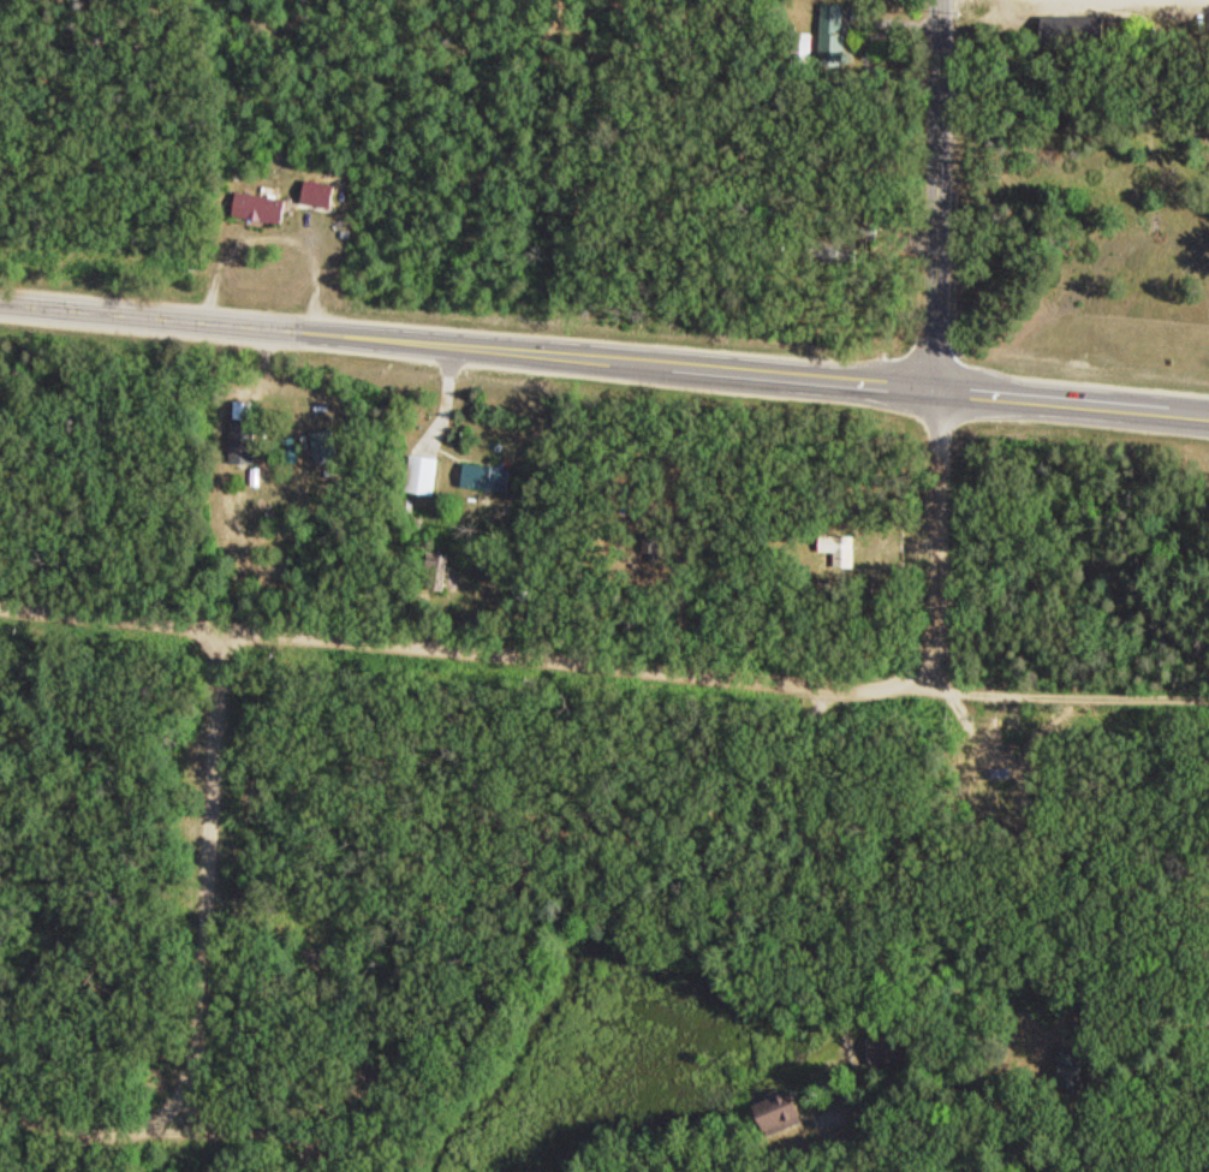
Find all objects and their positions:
building: (1065, 30)
building: (827, 34)
building: (799, 47)
building: (323, 192)
road: (939, 196)
building: (263, 206)
road: (273, 234)
road: (467, 349)
road: (1072, 405)
road: (1199, 426)
building: (327, 444)
building: (427, 472)
building: (489, 475)
road: (935, 543)
building: (835, 547)
building: (522, 589)
road: (452, 649)
road: (1056, 691)
road: (201, 964)
building: (1072, 1006)
road: (1155, 1023)
building: (1073, 1066)
building: (764, 1114)
road: (245, 1140)

